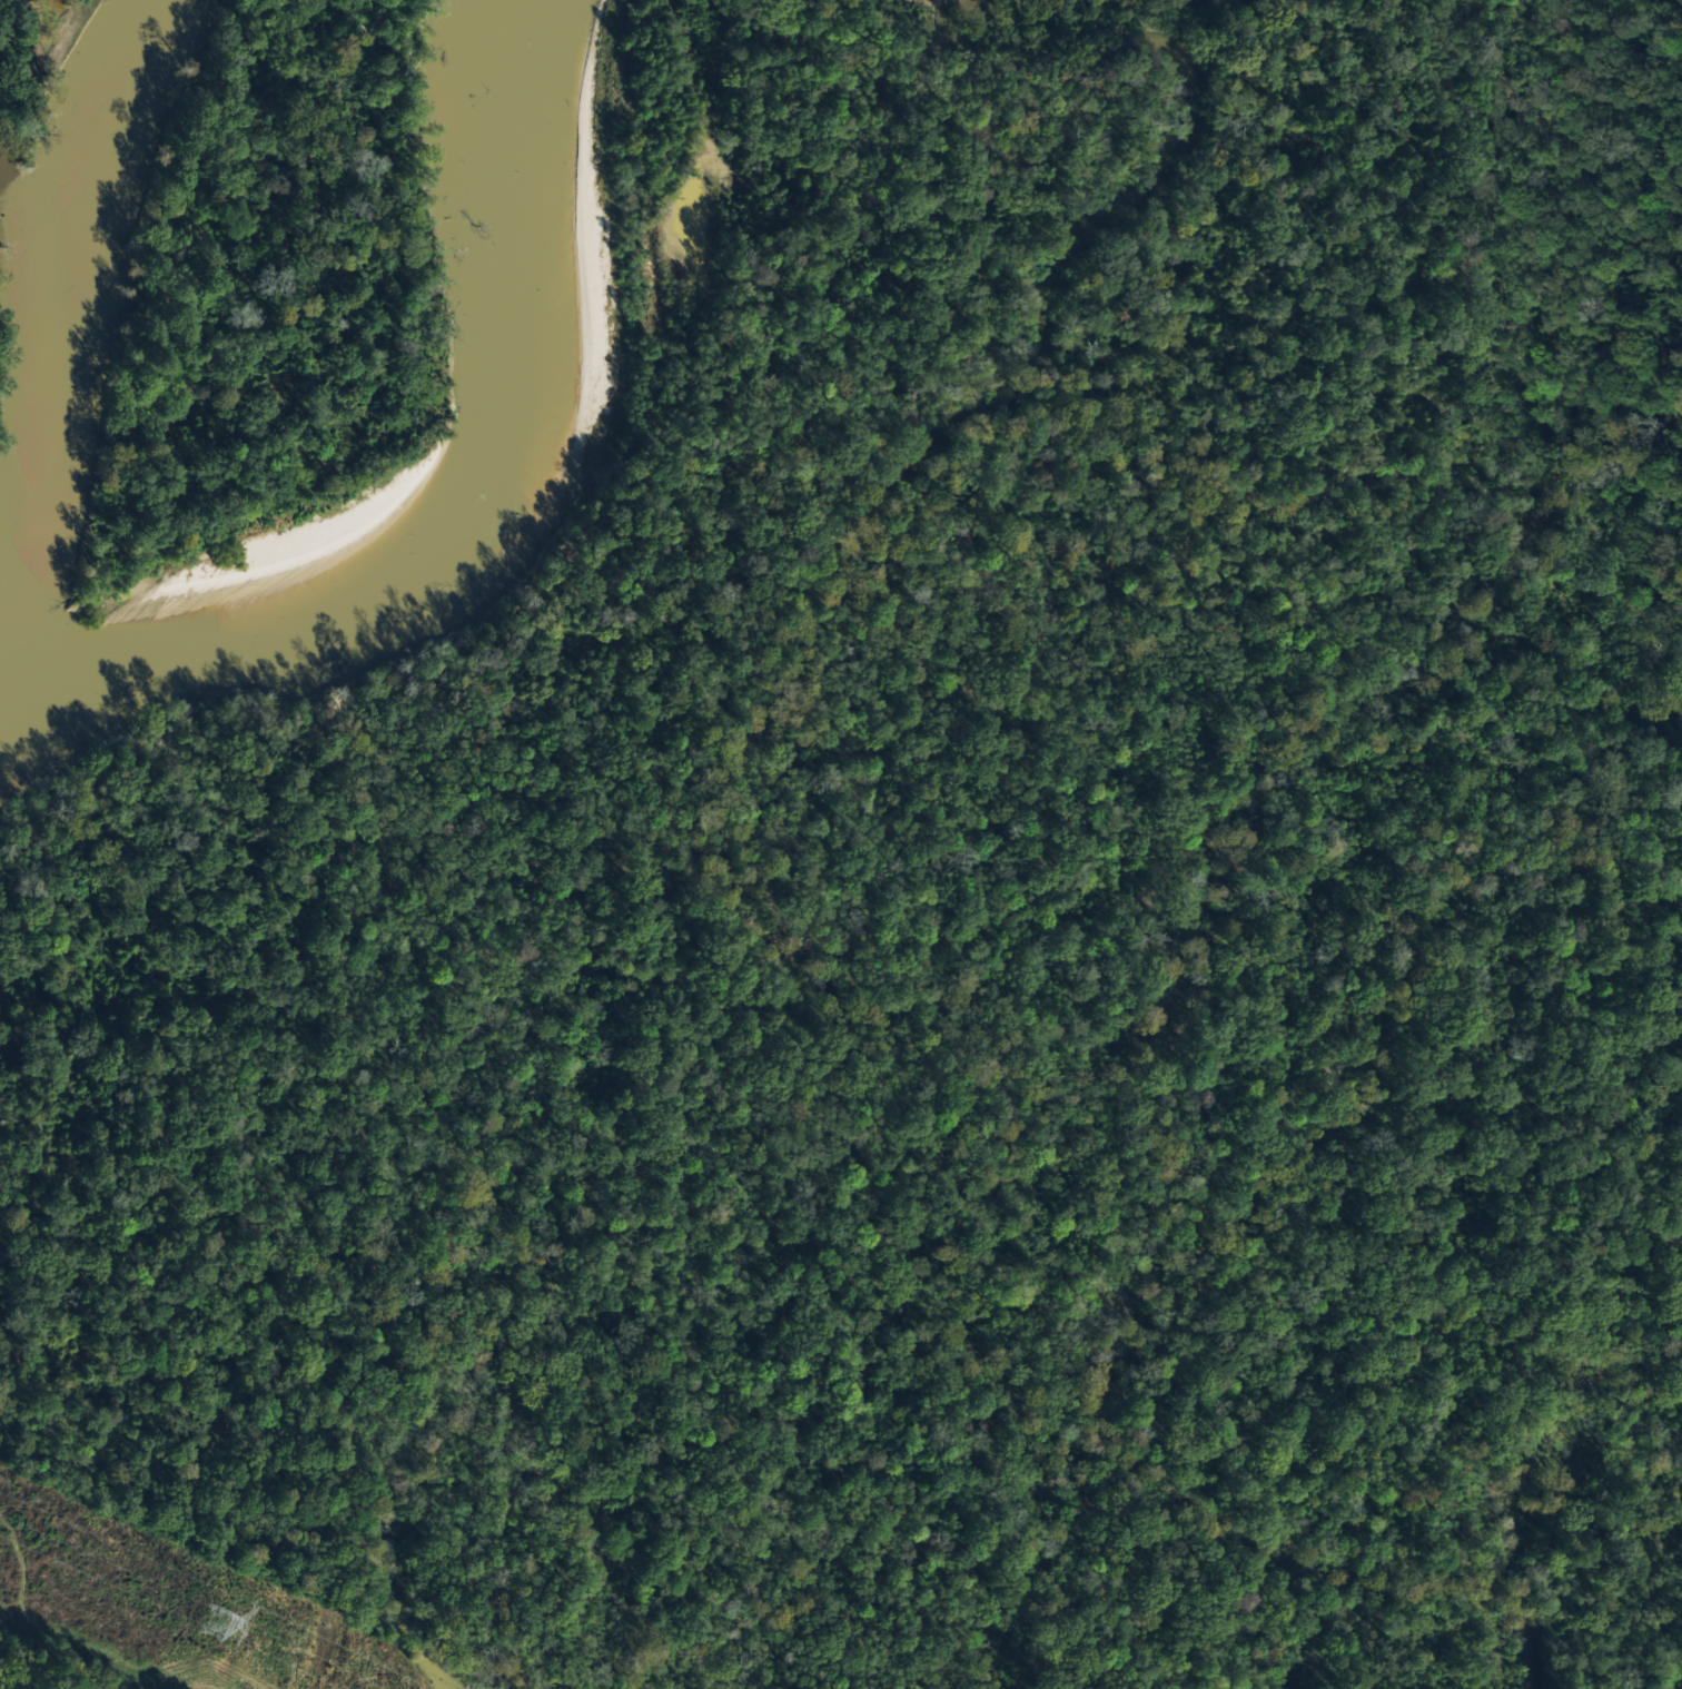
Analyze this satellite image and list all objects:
river: (62, 264)
river: (475, 507)
power tower: (221, 1617)

